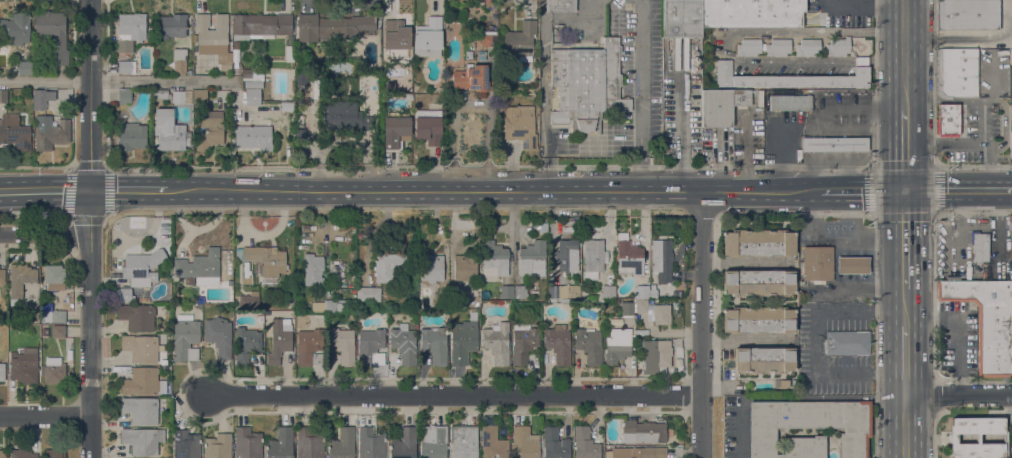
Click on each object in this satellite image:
building: (811, 4)
building: (560, 6)
road: (863, 7)
building: (450, 10)
building: (752, 13)
building: (966, 14)
building: (681, 18)
building: (172, 26)
building: (260, 26)
building: (132, 27)
building: (334, 27)
building: (15, 29)
building: (212, 33)
building: (54, 34)
building: (395, 37)
building: (429, 37)
building: (489, 39)
building: (290, 40)
road: (959, 40)
building: (519, 43)
road: (728, 45)
building: (749, 47)
building: (778, 47)
building: (808, 47)
building: (838, 47)
building: (289, 53)
building: (482, 56)
road: (907, 56)
building: (1011, 56)
building: (180, 60)
building: (694, 64)
building: (126, 67)
building: (25, 68)
building: (957, 71)
road: (546, 72)
building: (247, 74)
road: (989, 74)
building: (792, 77)
building: (471, 78)
road: (115, 80)
building: (587, 85)
building: (416, 89)
road: (641, 94)
building: (160, 95)
building: (3, 96)
road: (92, 96)
building: (124, 96)
building: (200, 96)
building: (252, 96)
building: (181, 97)
building: (741, 98)
building: (39, 99)
road: (979, 99)
building: (790, 102)
building: (717, 109)
building: (1010, 110)
building: (986, 115)
building: (344, 117)
building: (948, 121)
road: (982, 121)
road: (680, 122)
building: (519, 125)
building: (429, 126)
building: (209, 130)
building: (170, 131)
building: (397, 131)
building: (14, 132)
building: (51, 132)
building: (131, 136)
building: (253, 137)
road: (951, 143)
building: (835, 144)
building: (1011, 144)
road: (906, 150)
road: (862, 189)
traffic signals: (906, 189)
road: (959, 189)
road: (485, 190)
road: (122, 191)
road: (47, 192)
traffic signals: (92, 192)
road: (1, 193)
road: (45, 231)
road: (835, 231)
road: (879, 236)
road: (906, 239)
building: (759, 242)
building: (979, 246)
building: (568, 255)
building: (594, 257)
building: (494, 258)
building: (533, 258)
building: (630, 258)
building: (662, 259)
building: (267, 262)
building: (818, 263)
road: (871, 263)
building: (851, 265)
gas station: (853, 265)
building: (389, 266)
building: (465, 266)
building: (142, 267)
building: (200, 267)
building: (432, 267)
building: (313, 269)
building: (2, 275)
building: (54, 277)
building: (19, 280)
building: (230, 282)
building: (759, 282)
road: (857, 290)
building: (506, 291)
building: (520, 291)
building: (608, 291)
building: (641, 291)
building: (563, 292)
building: (368, 294)
building: (122, 295)
building: (654, 295)
building: (249, 300)
building: (198, 305)
building: (345, 305)
building: (642, 305)
building: (324, 306)
building: (207, 307)
road: (905, 307)
building: (626, 308)
building: (662, 314)
building: (53, 316)
building: (137, 316)
building: (758, 319)
building: (985, 320)
road: (702, 323)
road: (90, 324)
building: (58, 331)
building: (44, 332)
building: (219, 336)
building: (185, 338)
road: (740, 339)
building: (463, 340)
building: (279, 341)
building: (497, 342)
building: (524, 342)
building: (342, 343)
building: (404, 343)
building: (558, 343)
building: (847, 343)
building: (246, 344)
building: (435, 344)
building: (617, 344)
building: (589, 345)
building: (140, 347)
building: (309, 347)
building: (371, 347)
building: (655, 355)
building: (764, 359)
road: (905, 360)
building: (164, 364)
building: (24, 365)
building: (53, 370)
building: (2, 371)
building: (143, 381)
building: (784, 382)
road: (455, 395)
road: (958, 395)
building: (141, 409)
road: (44, 415)
road: (905, 426)
building: (809, 427)
building: (642, 432)
building: (977, 438)
building: (143, 440)
building: (464, 441)
building: (433, 442)
building: (247, 443)
building: (309, 443)
building: (342, 443)
building: (370, 443)
building: (493, 443)
building: (524, 443)
building: (585, 443)
building: (185, 444)
building: (281, 444)
building: (404, 444)
building: (555, 444)
building: (218, 446)
building: (636, 452)
building: (54, 453)
building: (2, 454)
building: (22, 454)

